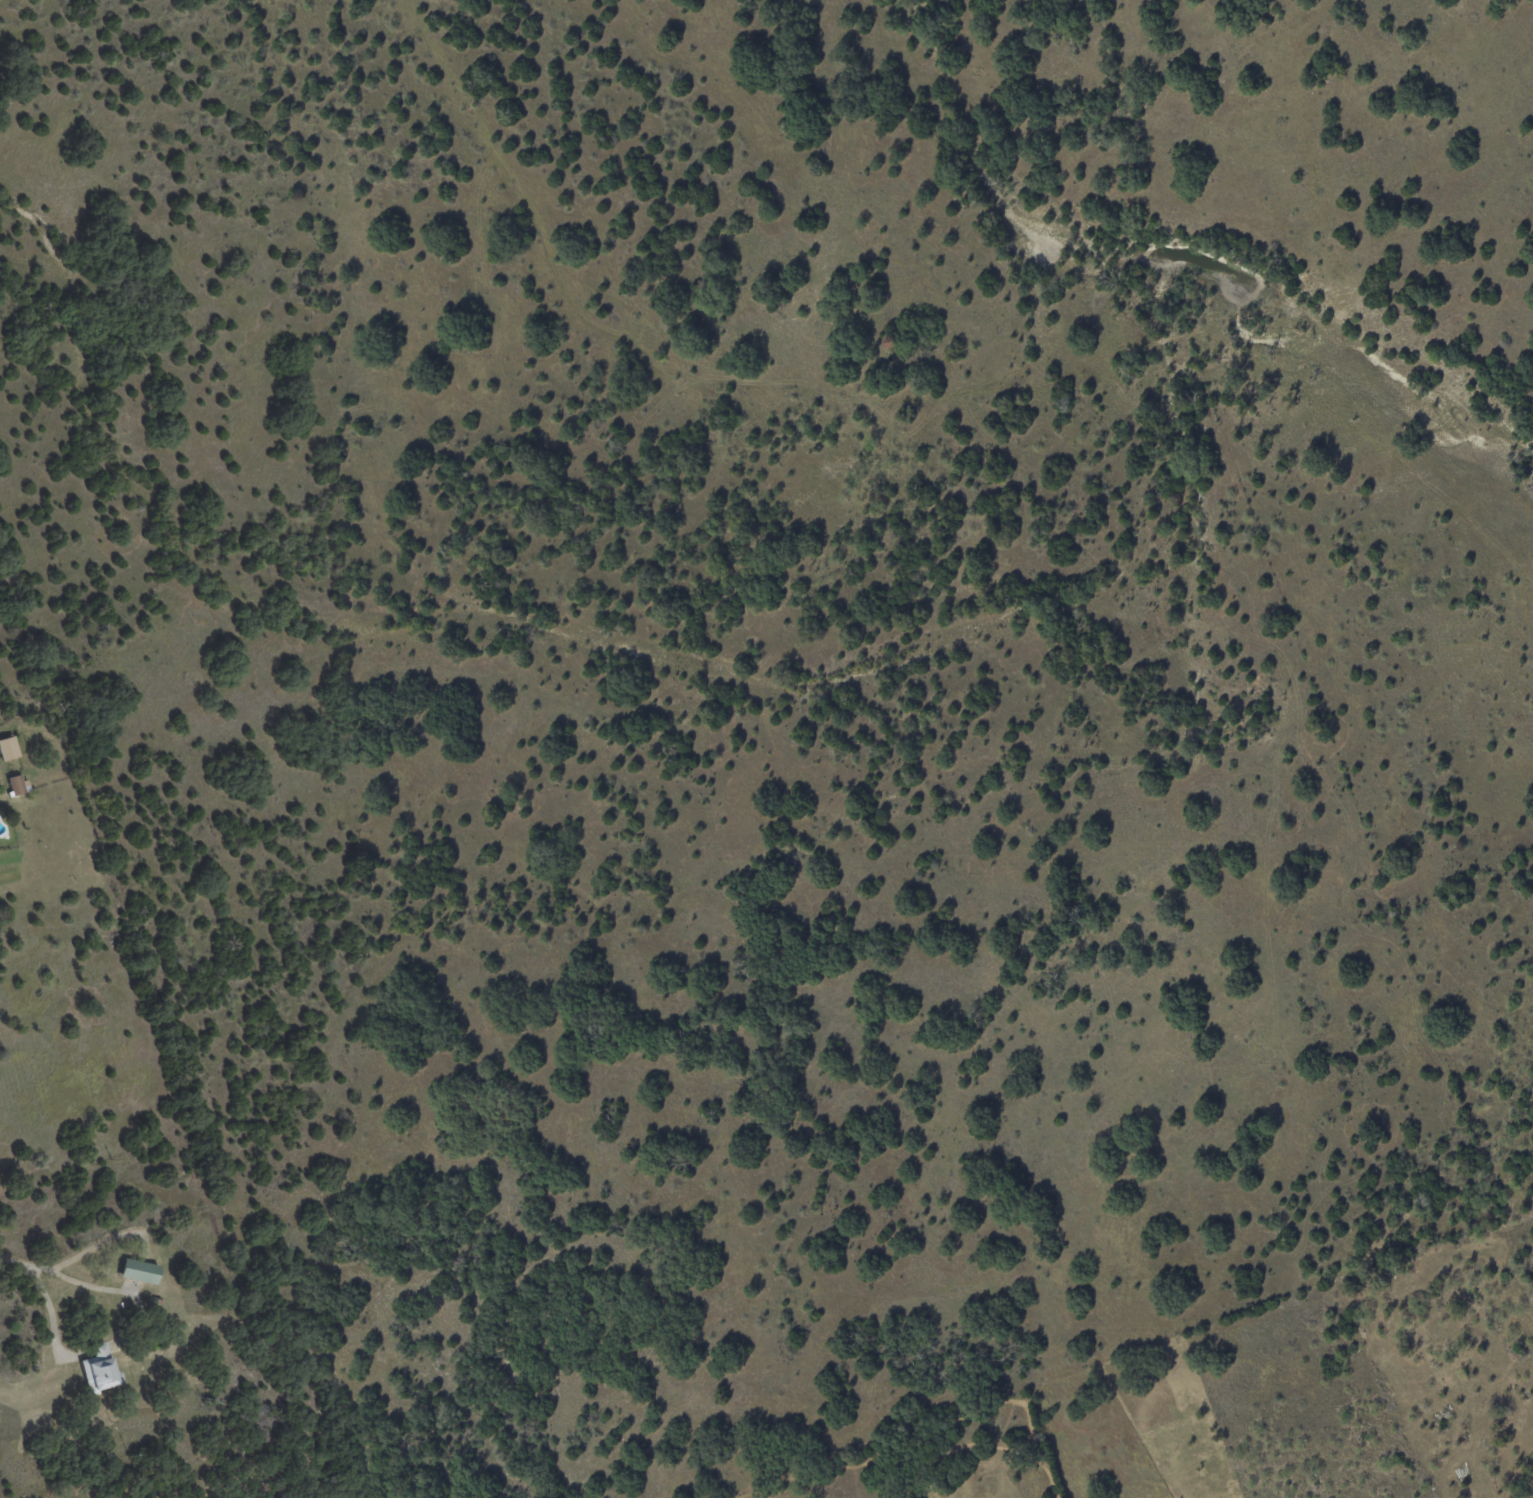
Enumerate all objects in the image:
building: (8, 748)
building: (17, 784)
building: (138, 1271)
road: (46, 1294)
building: (99, 1369)
building: (42, 1396)

